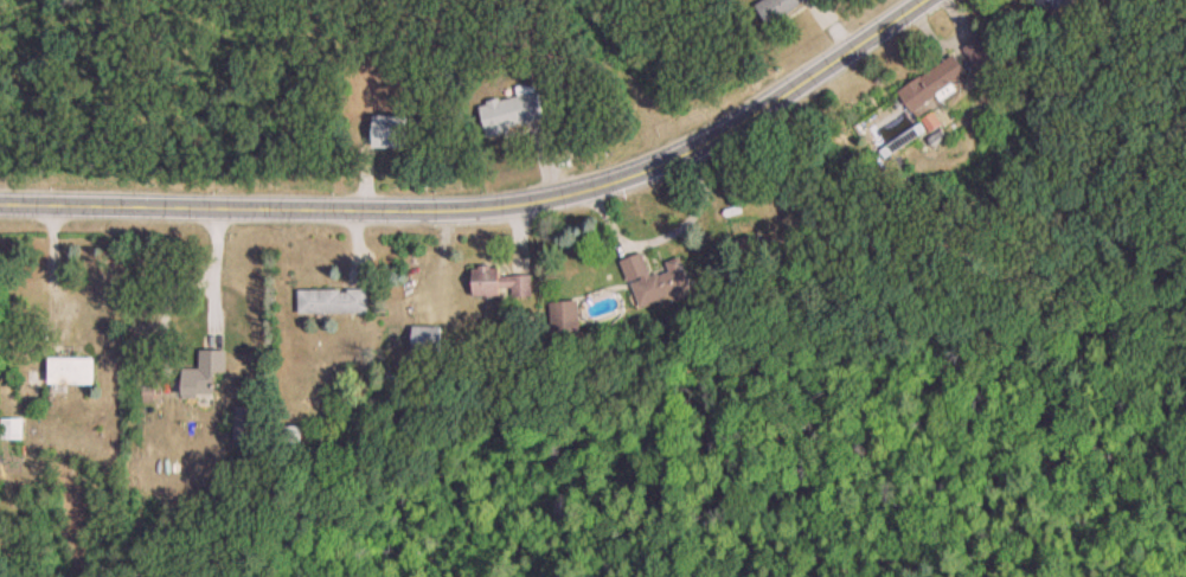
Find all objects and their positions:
building: (1052, 6)
building: (777, 9)
building: (980, 53)
building: (934, 83)
building: (512, 114)
building: (389, 133)
road: (489, 210)
road: (52, 271)
building: (654, 280)
building: (499, 283)
road: (179, 287)
building: (333, 301)
building: (425, 339)
building: (72, 370)
building: (204, 372)
building: (11, 429)

